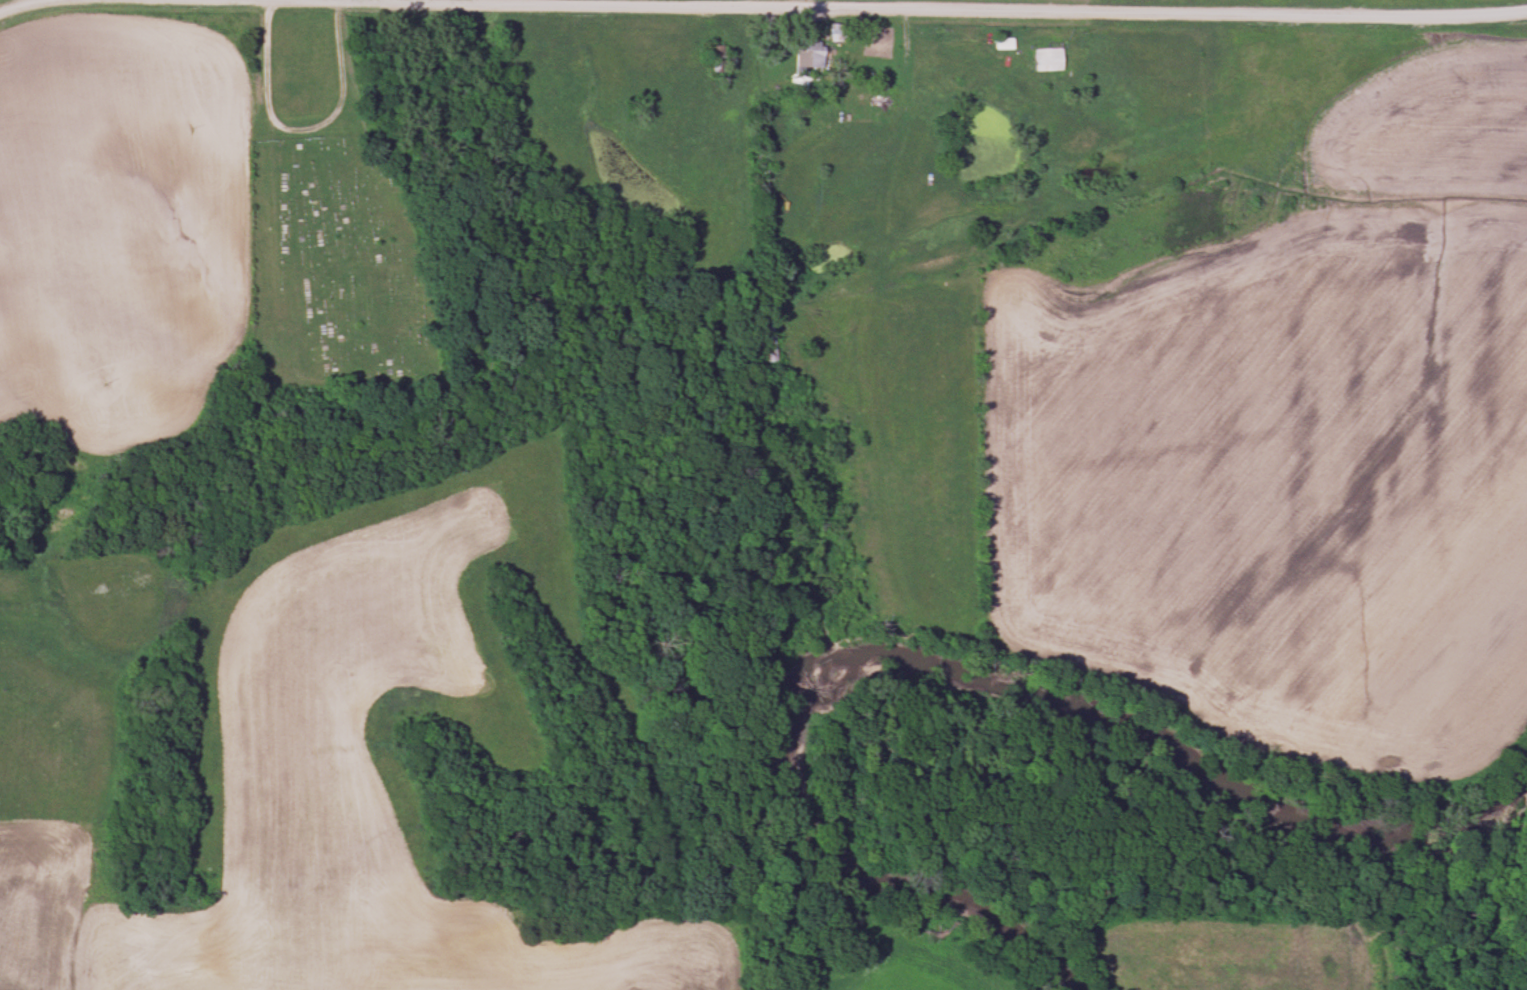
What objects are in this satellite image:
road: (762, 7)
building: (833, 33)
building: (997, 45)
building: (808, 57)
building: (1041, 61)
road: (299, 139)
park: (331, 281)

